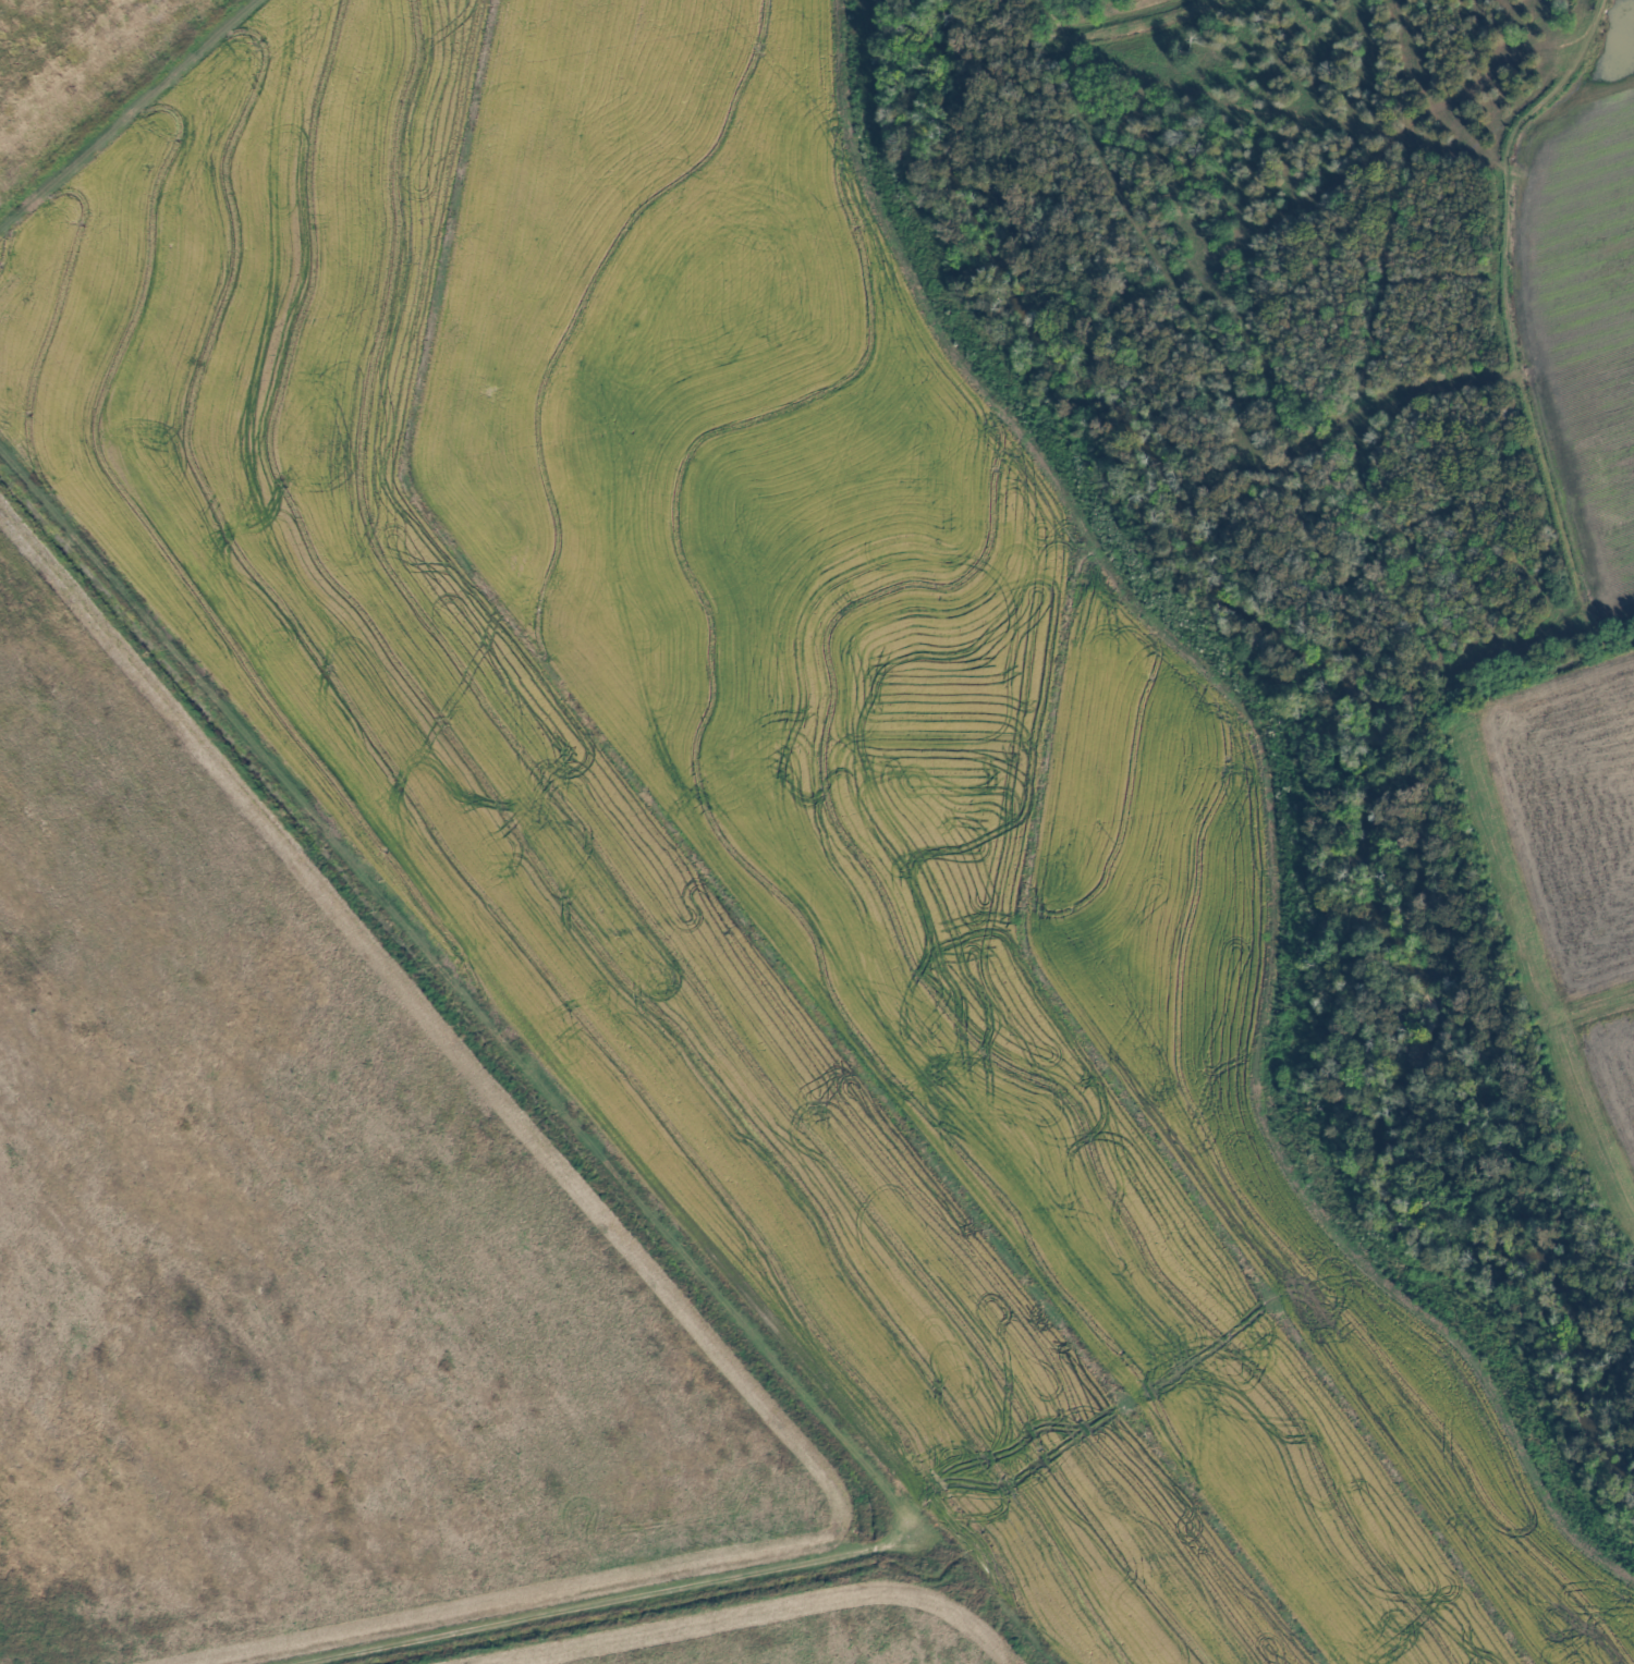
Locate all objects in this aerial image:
road: (649, 1267)

